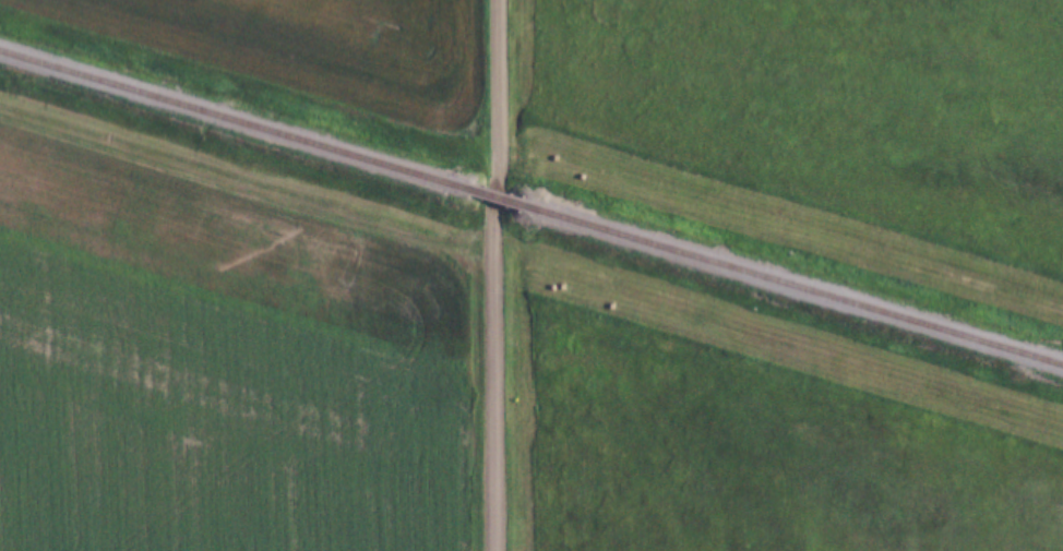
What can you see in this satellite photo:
railway: (235, 120)
road: (756, 192)
road: (243, 197)
railway: (497, 197)
road: (490, 275)
railway: (793, 286)

